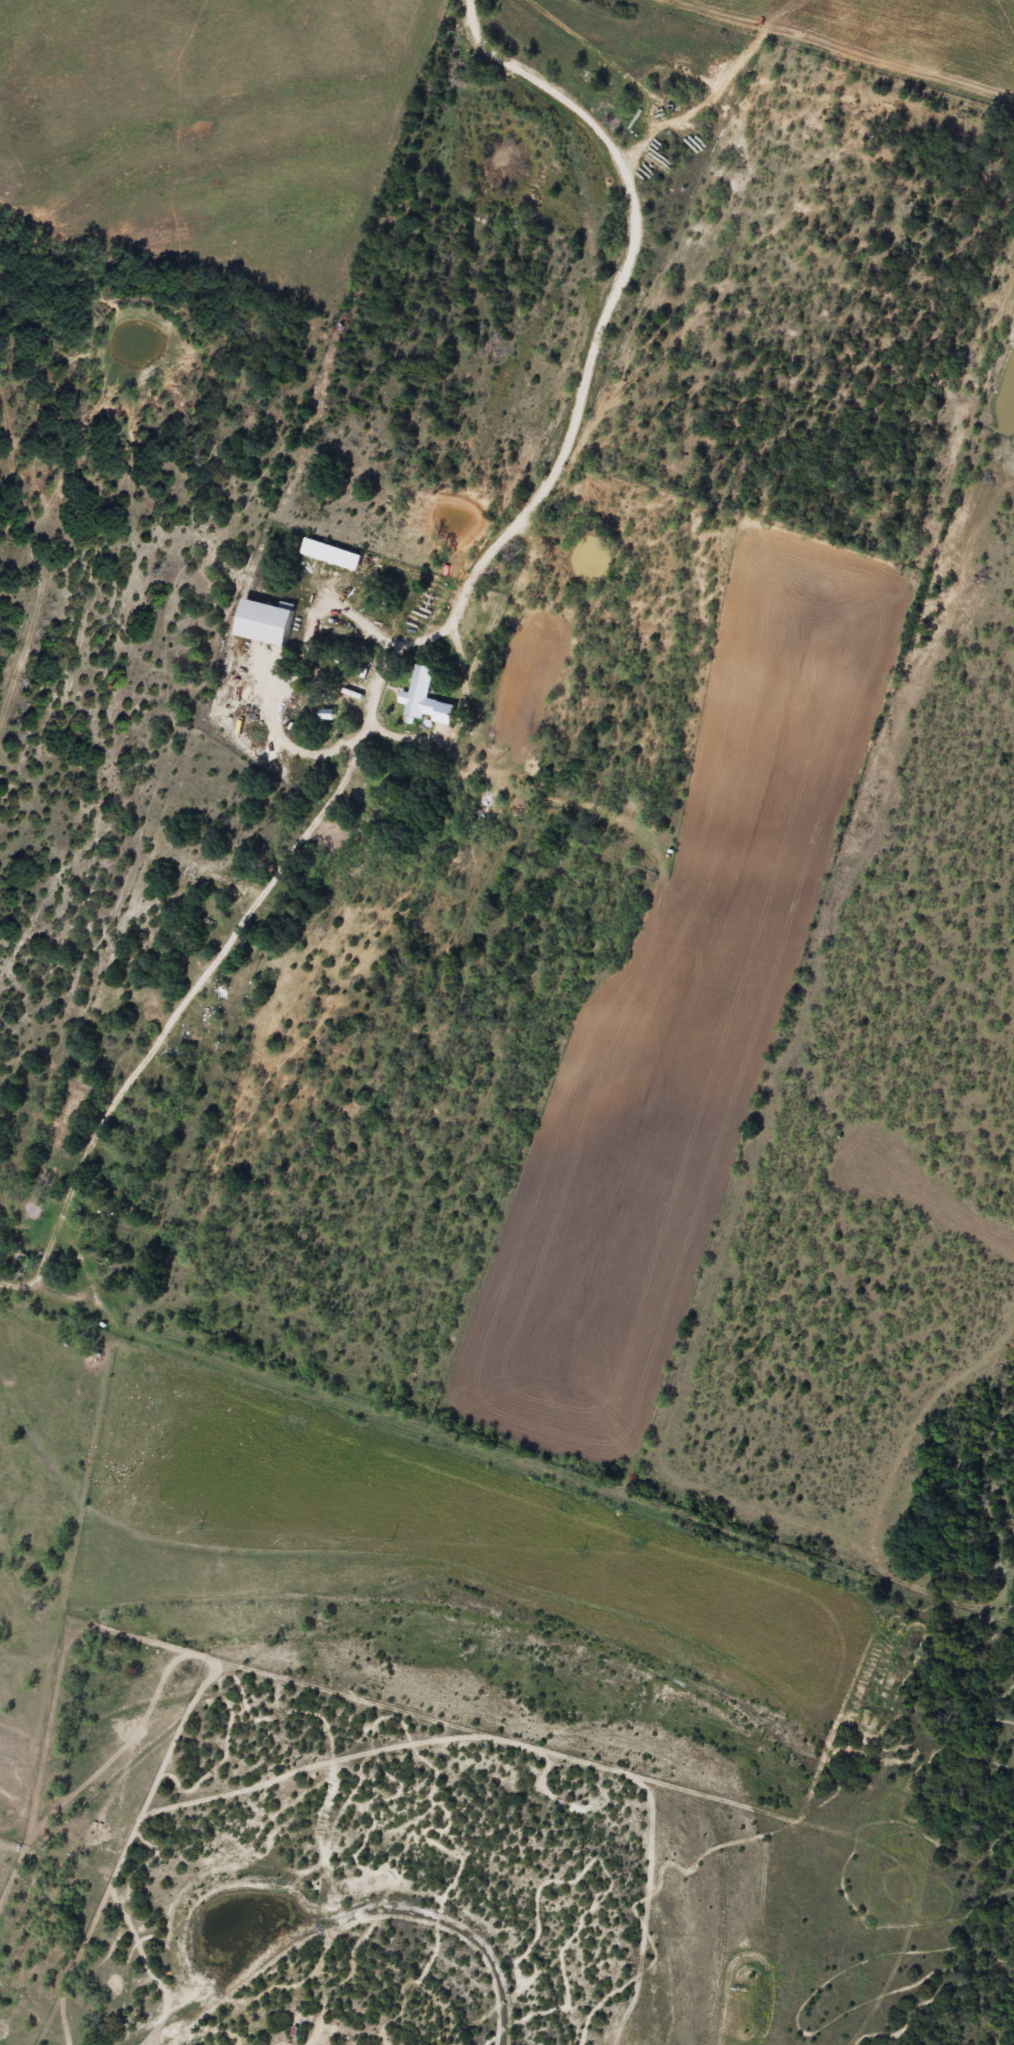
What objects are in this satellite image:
road: (593, 320)
building: (258, 622)
building: (421, 699)

